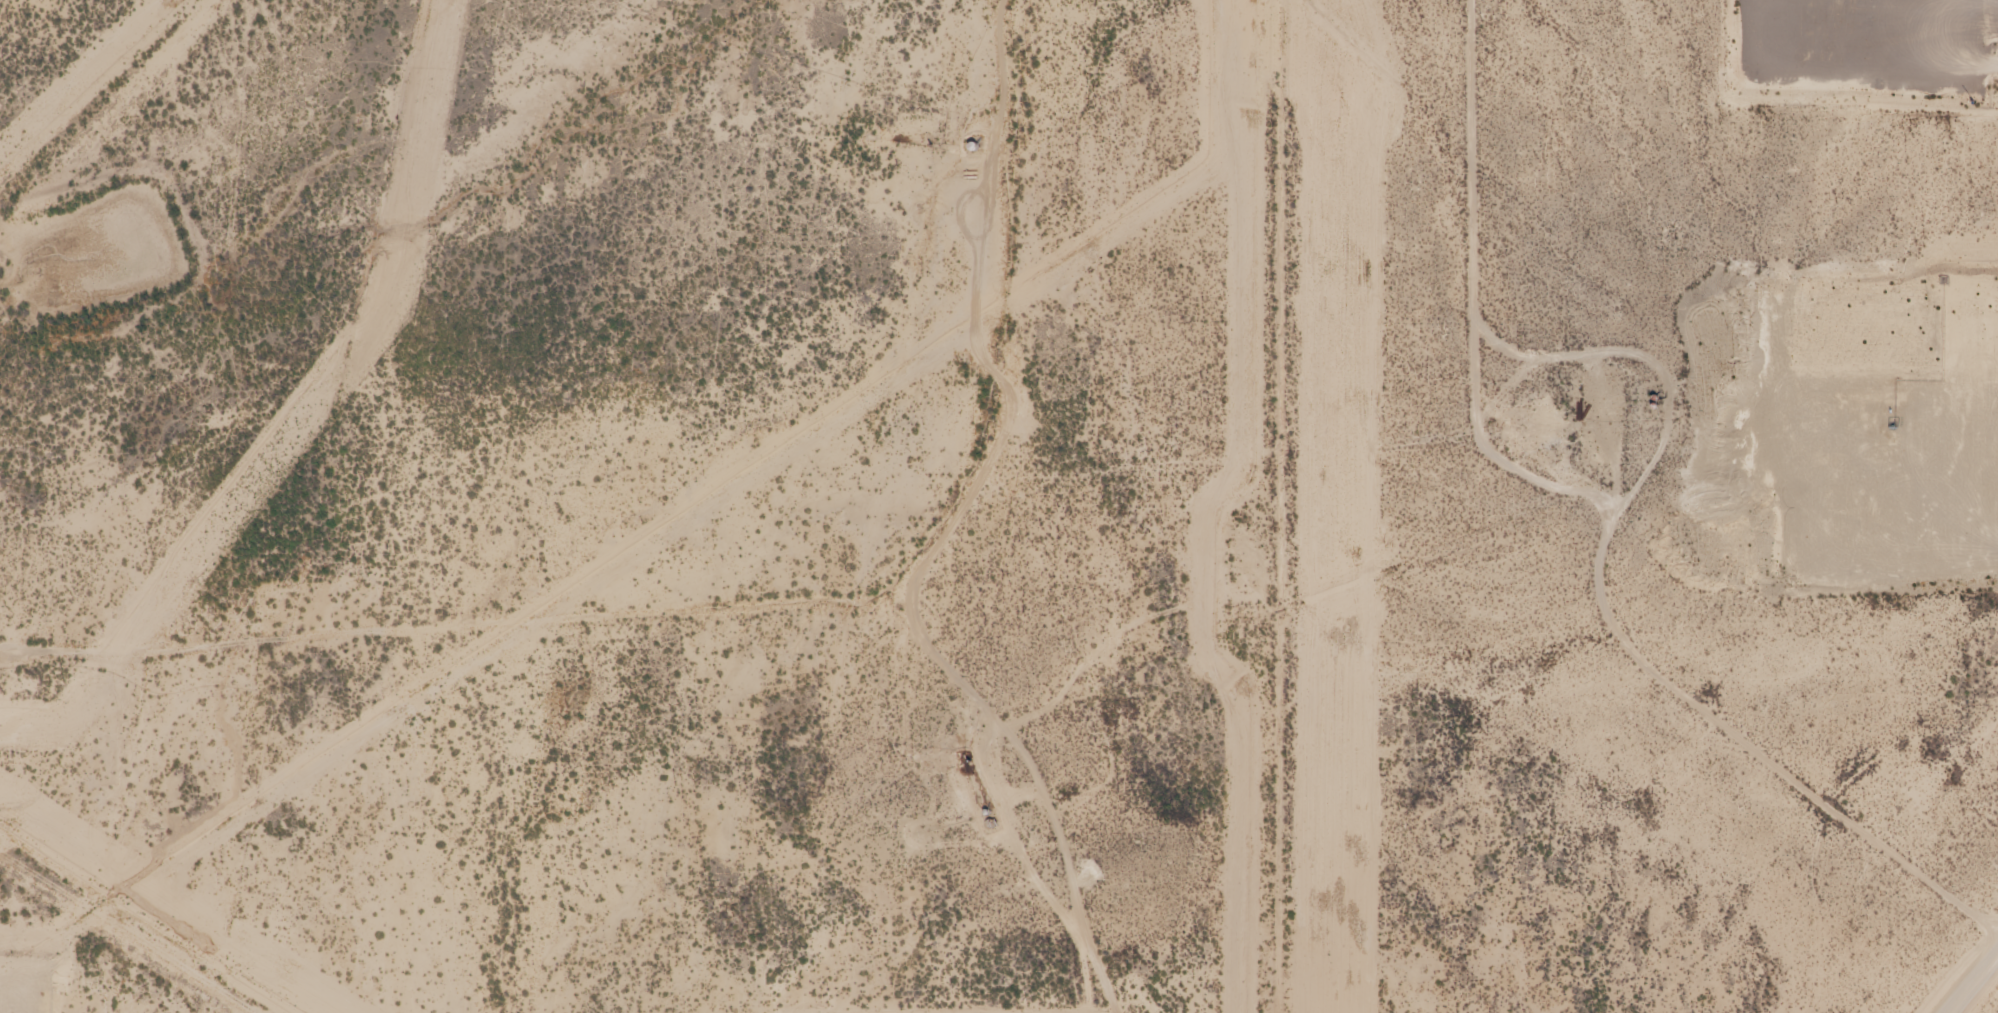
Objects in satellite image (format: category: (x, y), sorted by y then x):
road: (1453, 218)
road: (1041, 226)
road: (1492, 463)
road: (770, 531)
road: (414, 631)
road: (1983, 975)

